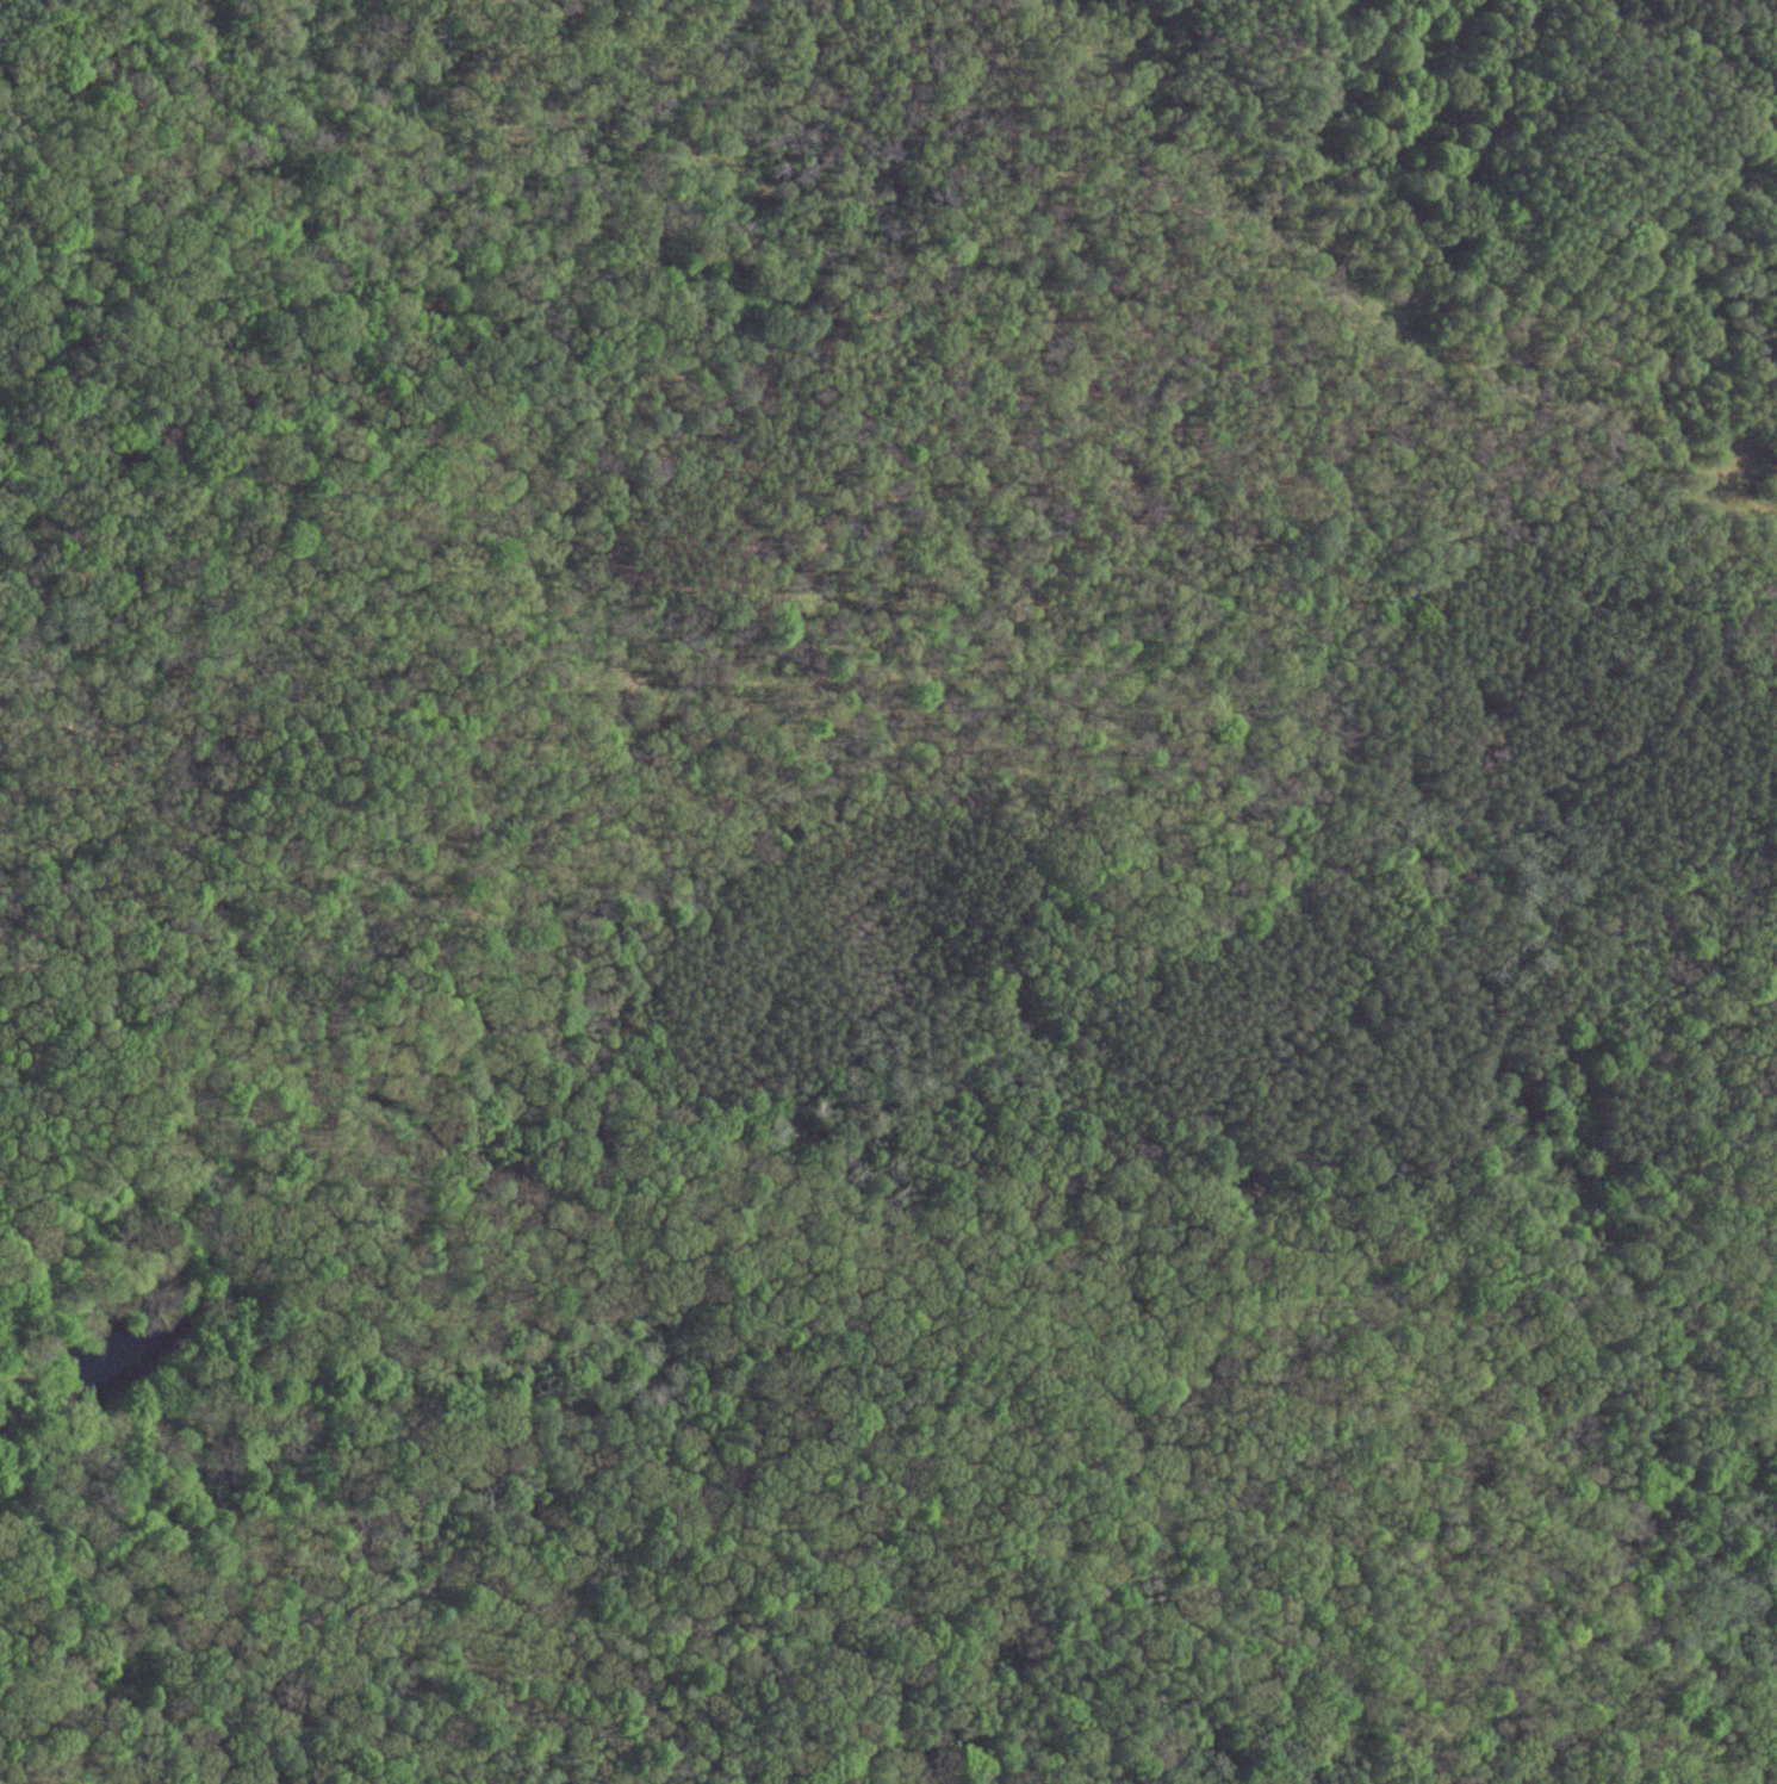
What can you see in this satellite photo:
road: (1373, 304)

